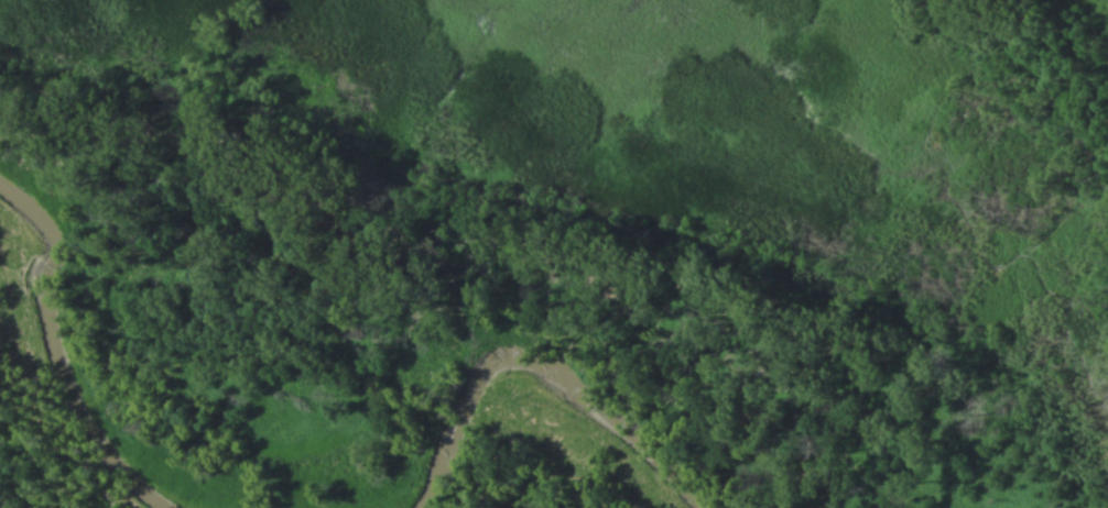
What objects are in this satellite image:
park: (554, 254)

